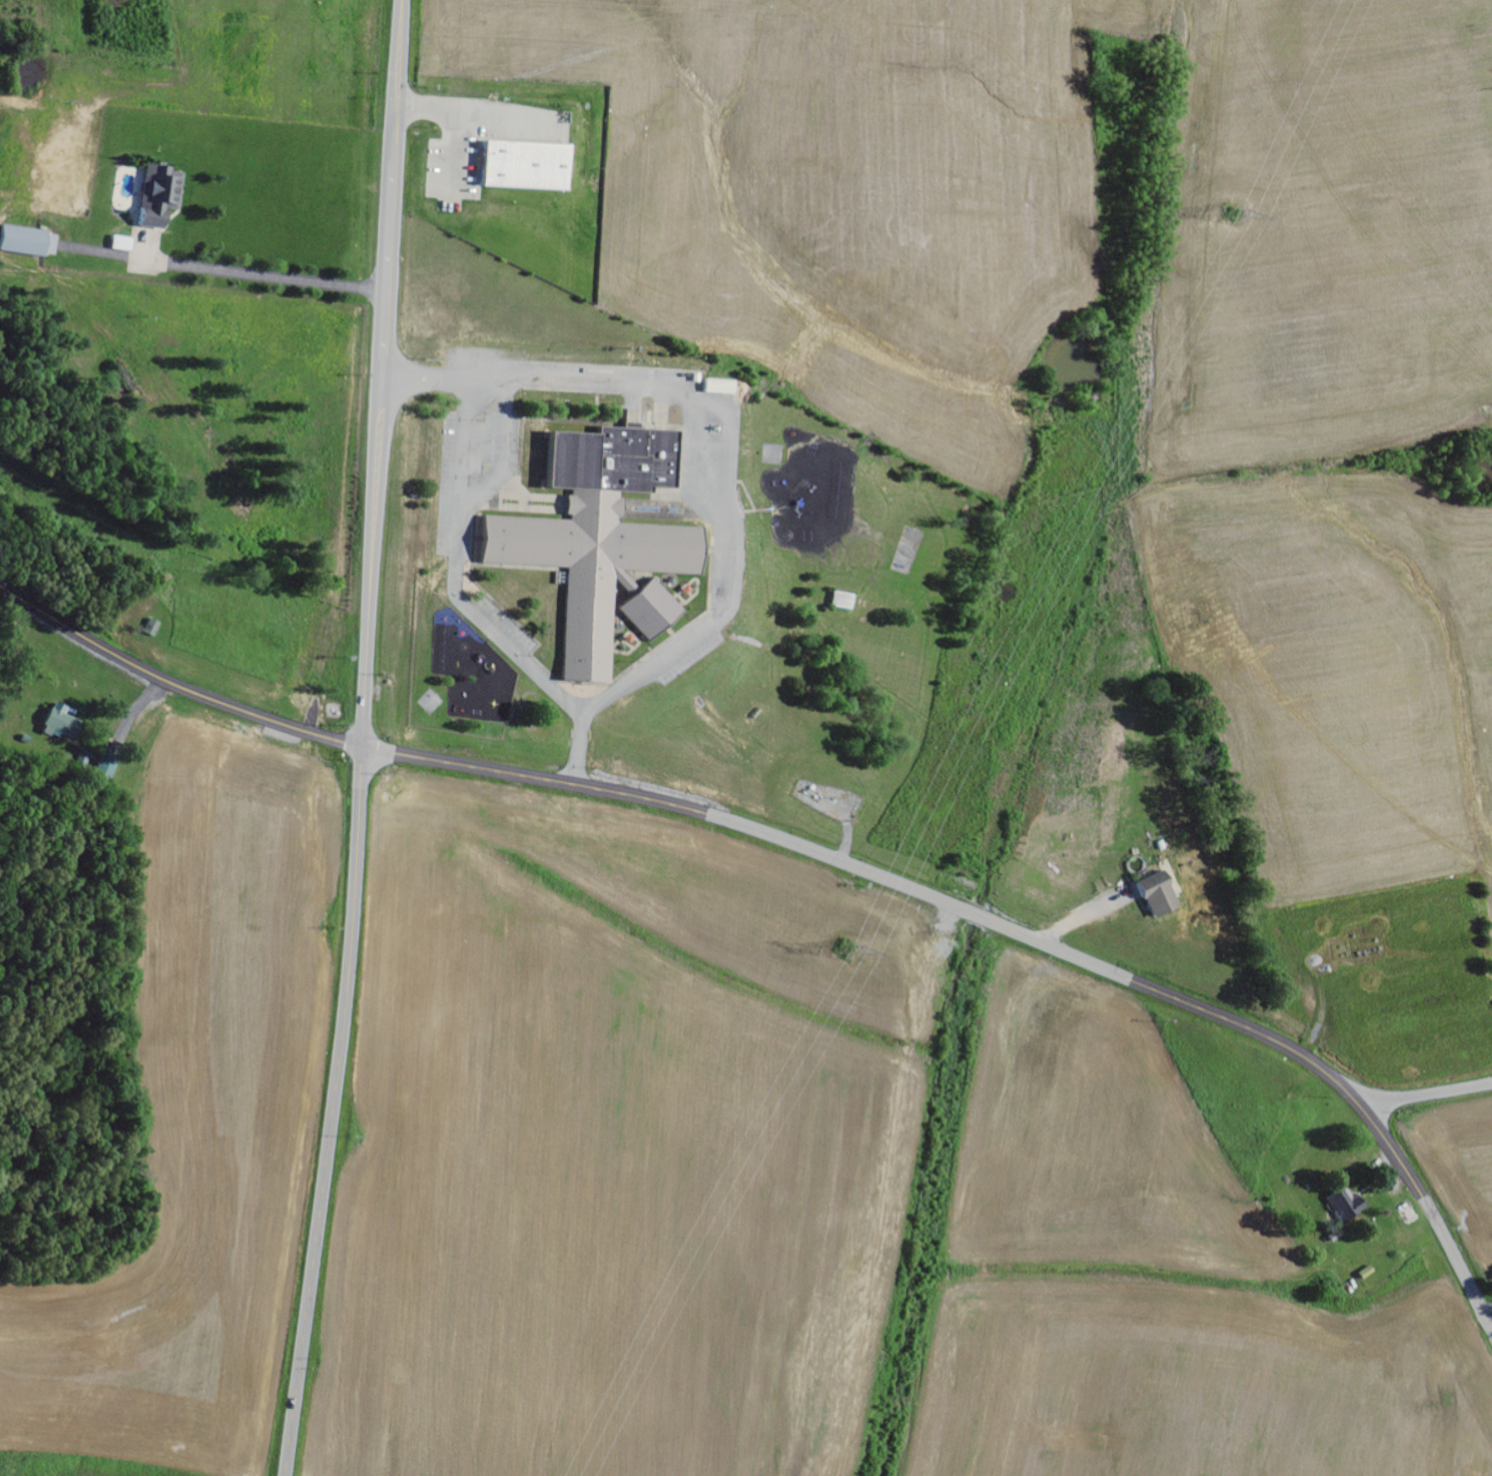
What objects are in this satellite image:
building: (529, 165)
building: (162, 195)
power tower: (1233, 215)
building: (31, 241)
building: (124, 244)
road: (194, 270)
building: (720, 387)
building: (601, 534)
building: (844, 601)
building: (652, 610)
building: (1195, 616)
building: (153, 628)
building: (63, 723)
road: (363, 739)
building: (109, 766)
road: (814, 852)
building: (1163, 895)
power tower: (846, 951)
road: (1426, 1092)
building: (1348, 1208)

